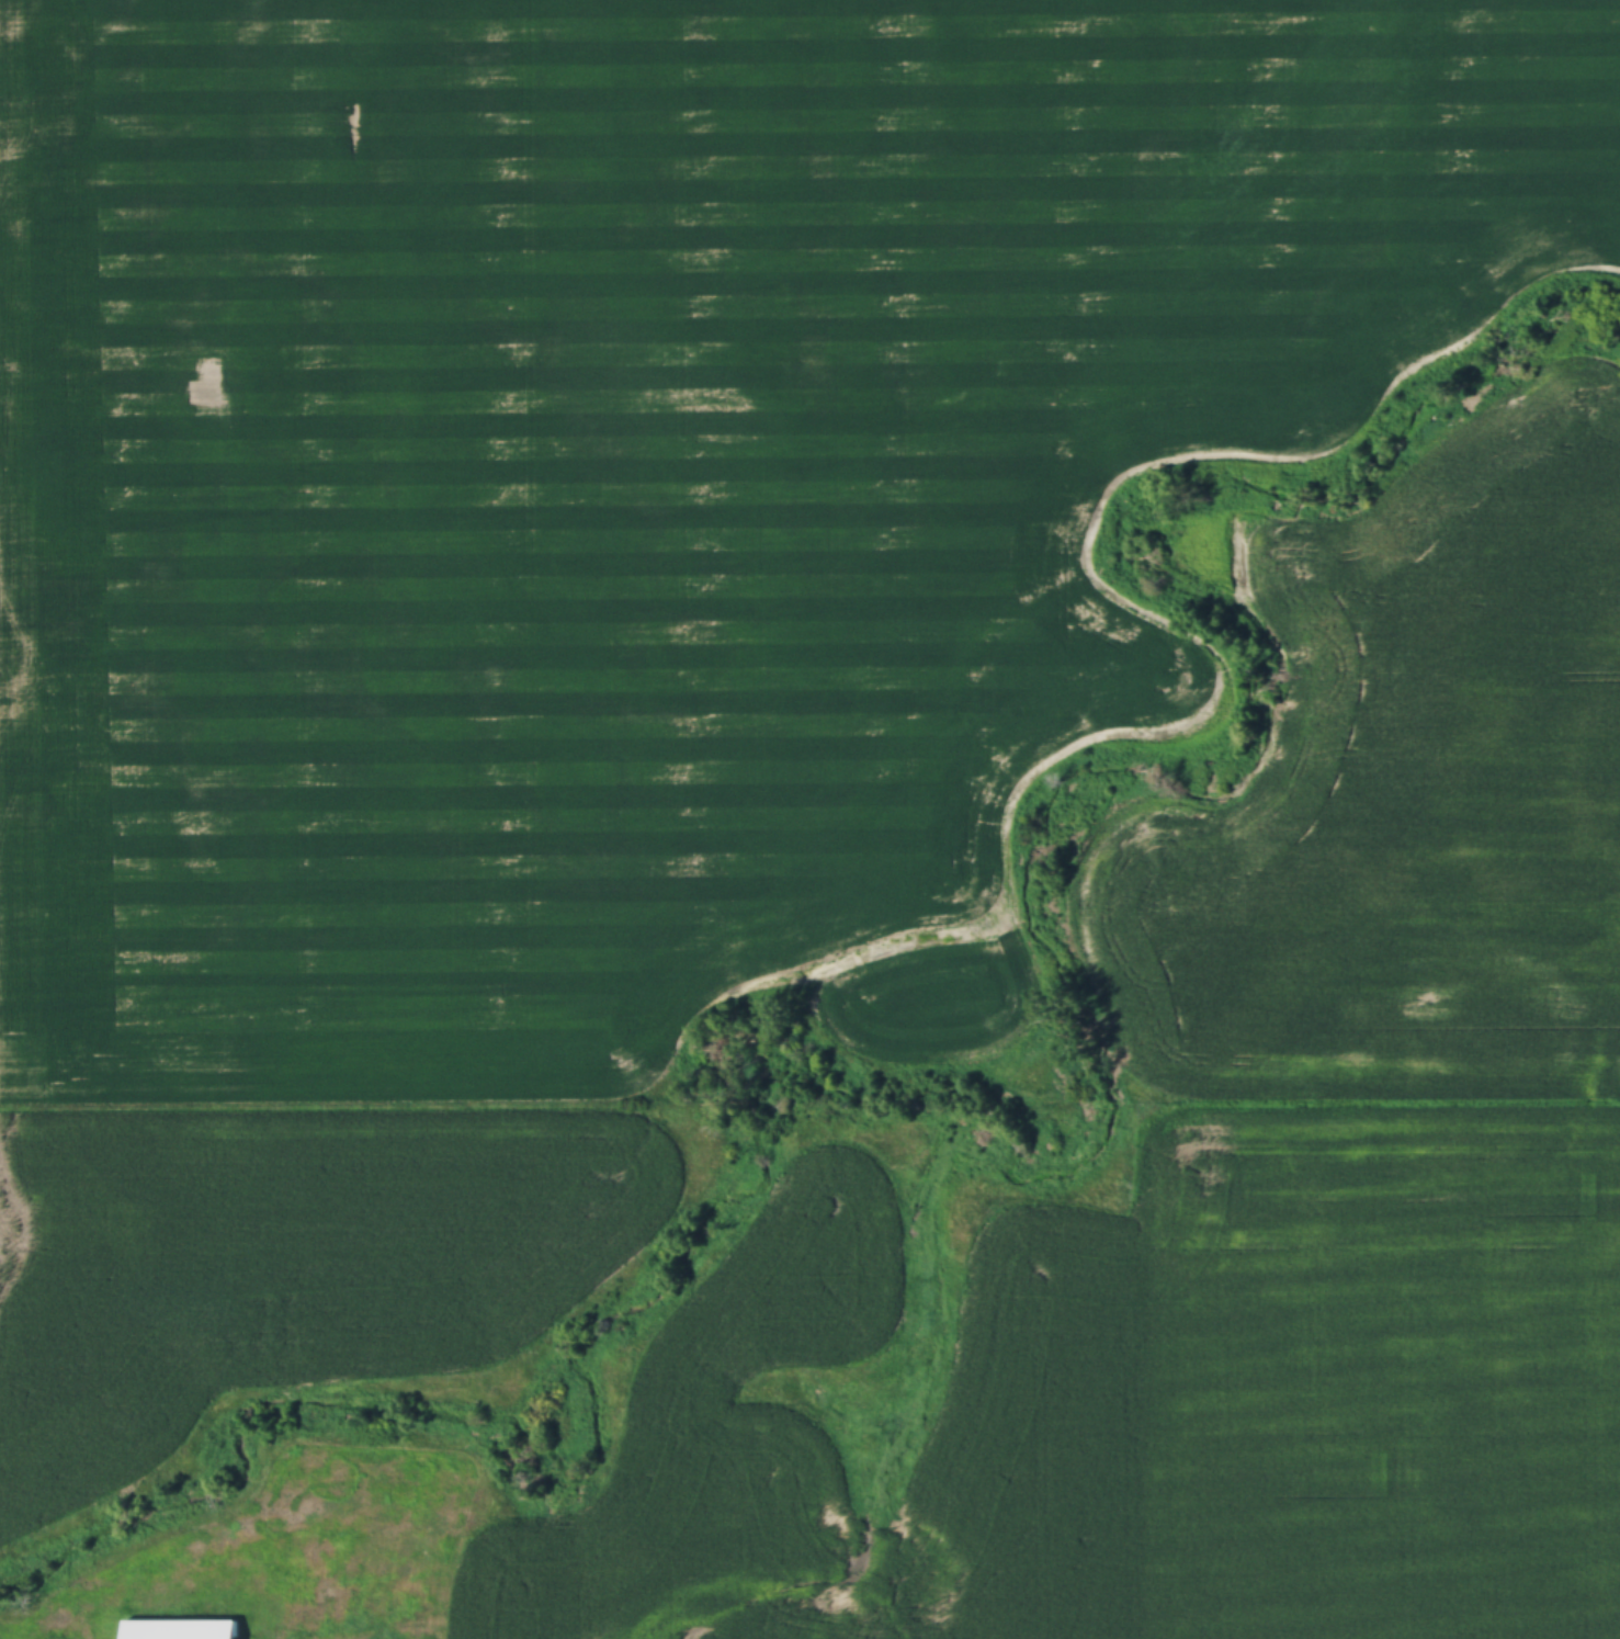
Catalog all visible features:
building: (181, 1630)

